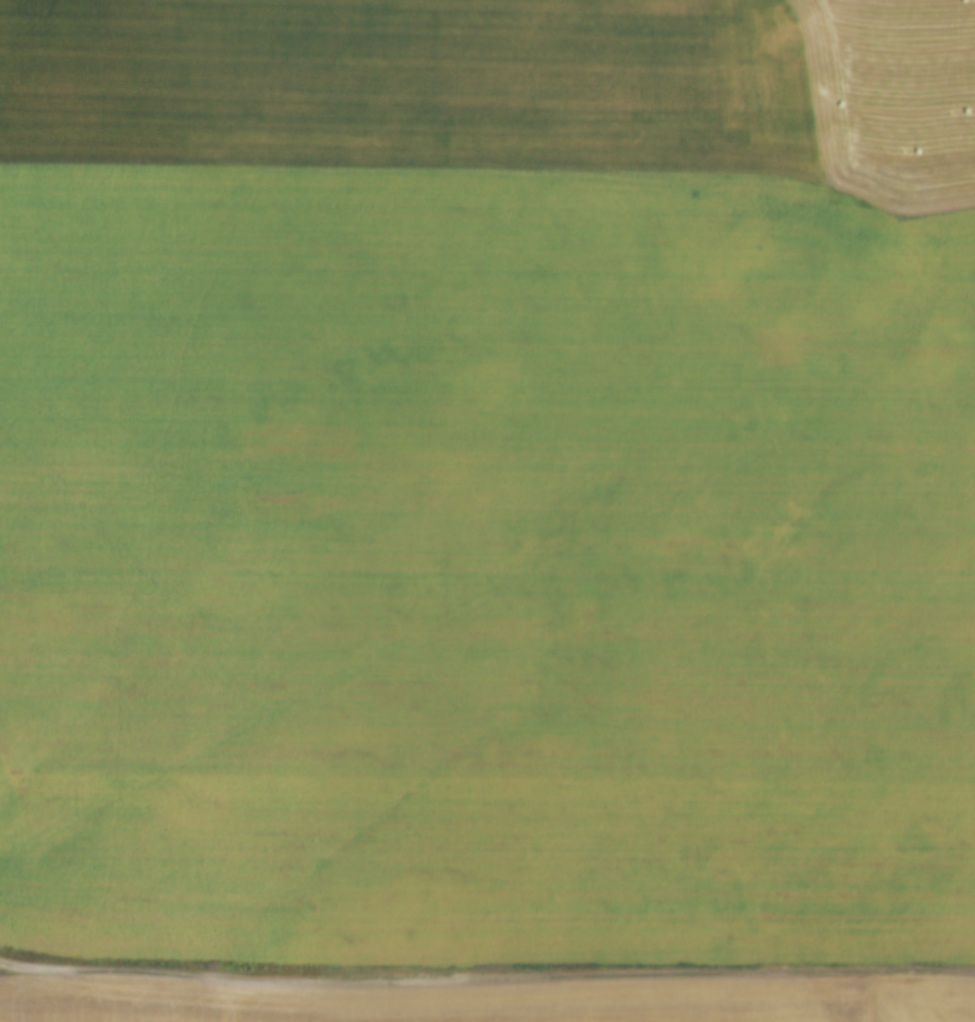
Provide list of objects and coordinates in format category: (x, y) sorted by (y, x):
road: (487, 975)

